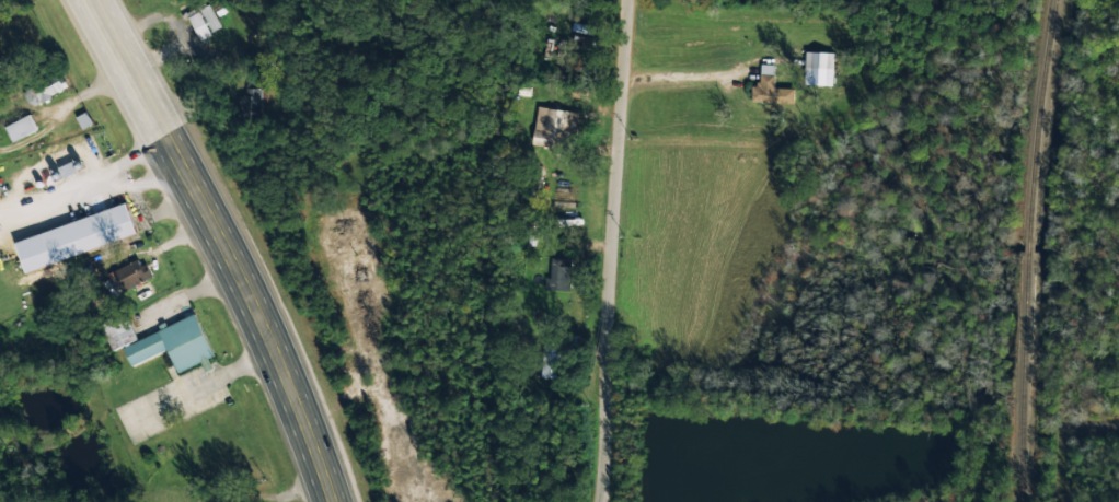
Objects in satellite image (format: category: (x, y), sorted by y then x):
building: (204, 20)
road: (113, 49)
building: (818, 67)
building: (770, 86)
building: (257, 93)
road: (151, 118)
building: (554, 126)
building: (20, 127)
building: (74, 236)
railway: (1026, 249)
road: (610, 250)
building: (129, 273)
building: (558, 273)
road: (254, 316)
building: (118, 331)
building: (174, 342)
building: (547, 359)

